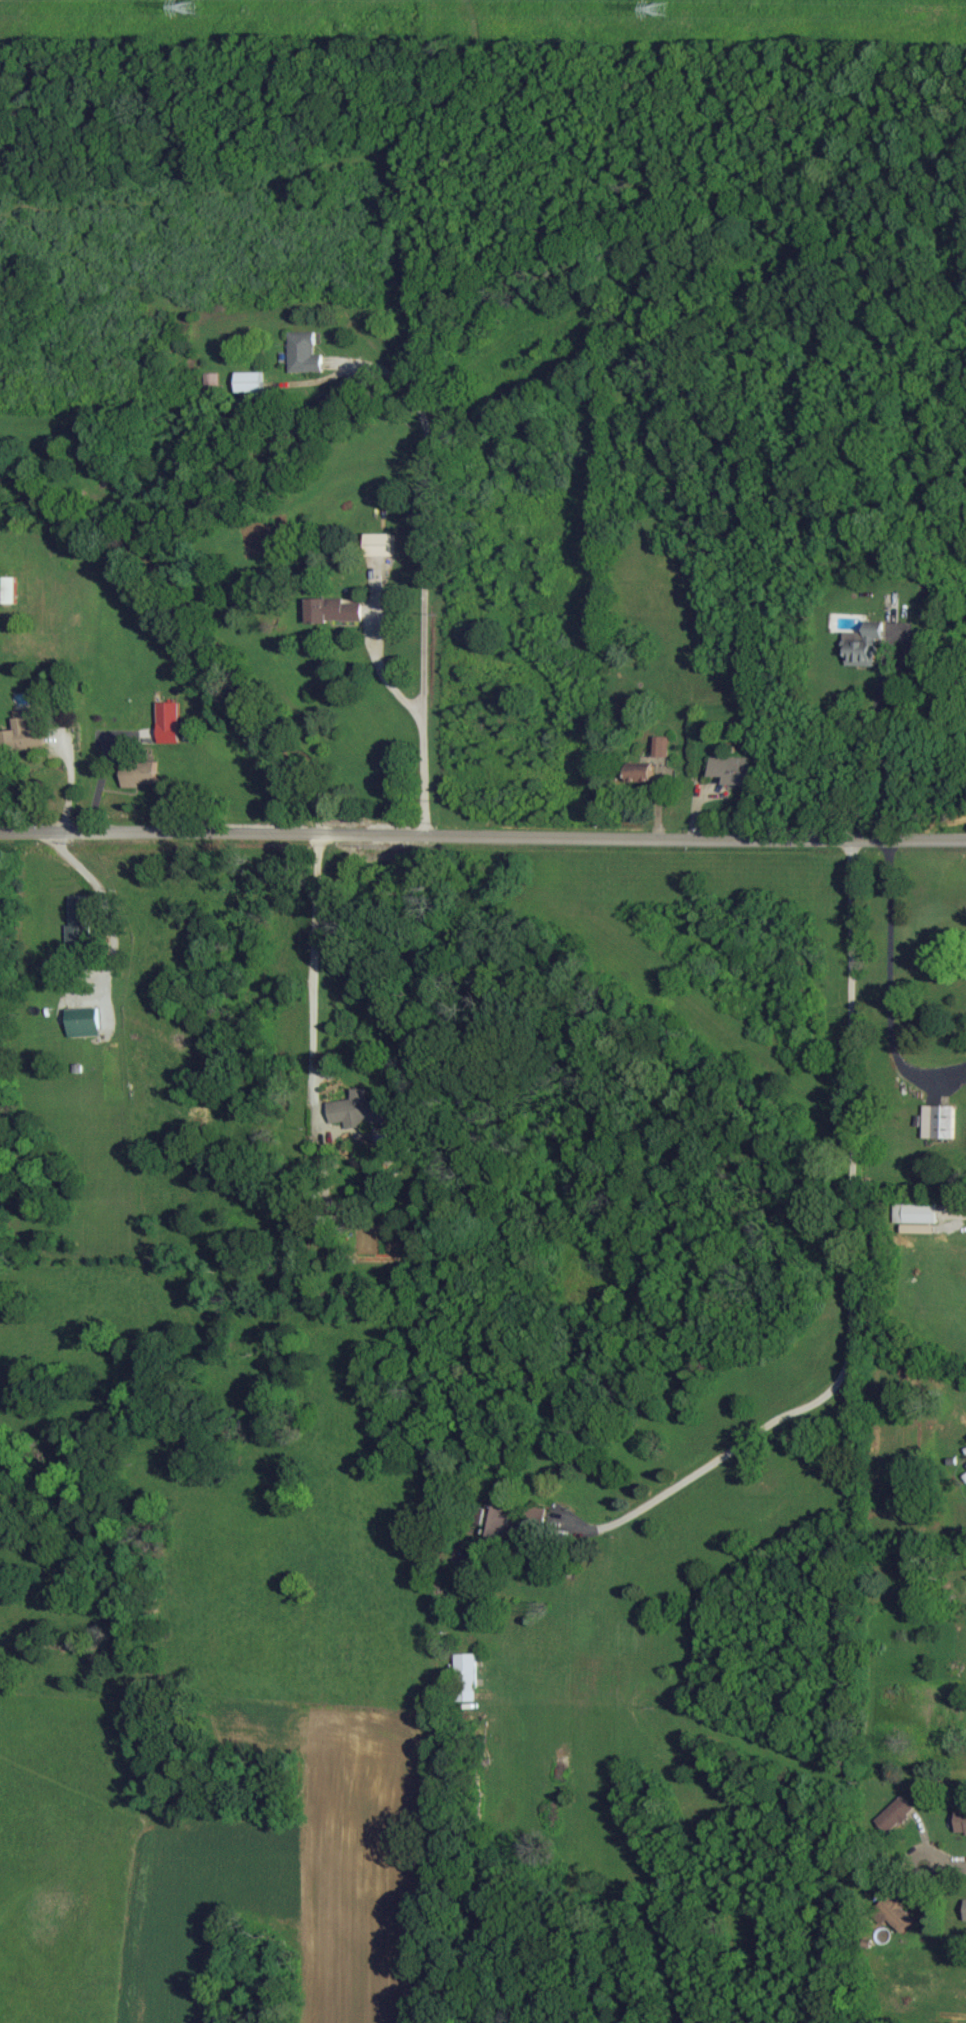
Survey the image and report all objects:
building: (304, 353)
building: (213, 379)
building: (250, 382)
building: (380, 543)
road: (426, 584)
building: (8, 589)
building: (333, 609)
building: (863, 644)
road: (878, 691)
building: (169, 721)
building: (22, 736)
building: (662, 745)
building: (732, 768)
building: (140, 773)
building: (639, 773)
road: (424, 833)
road: (907, 836)
road: (104, 911)
building: (78, 926)
building: (52, 964)
road: (316, 973)
road: (891, 984)
building: (84, 1021)
building: (357, 1109)
building: (940, 1121)
building: (916, 1212)
road: (853, 1255)
building: (537, 1516)
building: (498, 1517)
building: (467, 1677)
building: (896, 1814)
building: (961, 1822)
road: (944, 1865)
building: (896, 1914)

